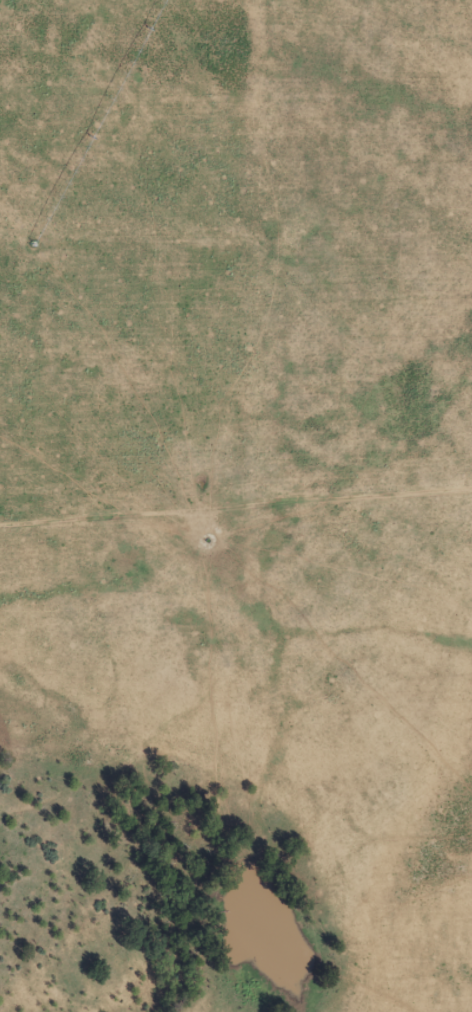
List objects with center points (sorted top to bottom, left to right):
road: (245, 591)

